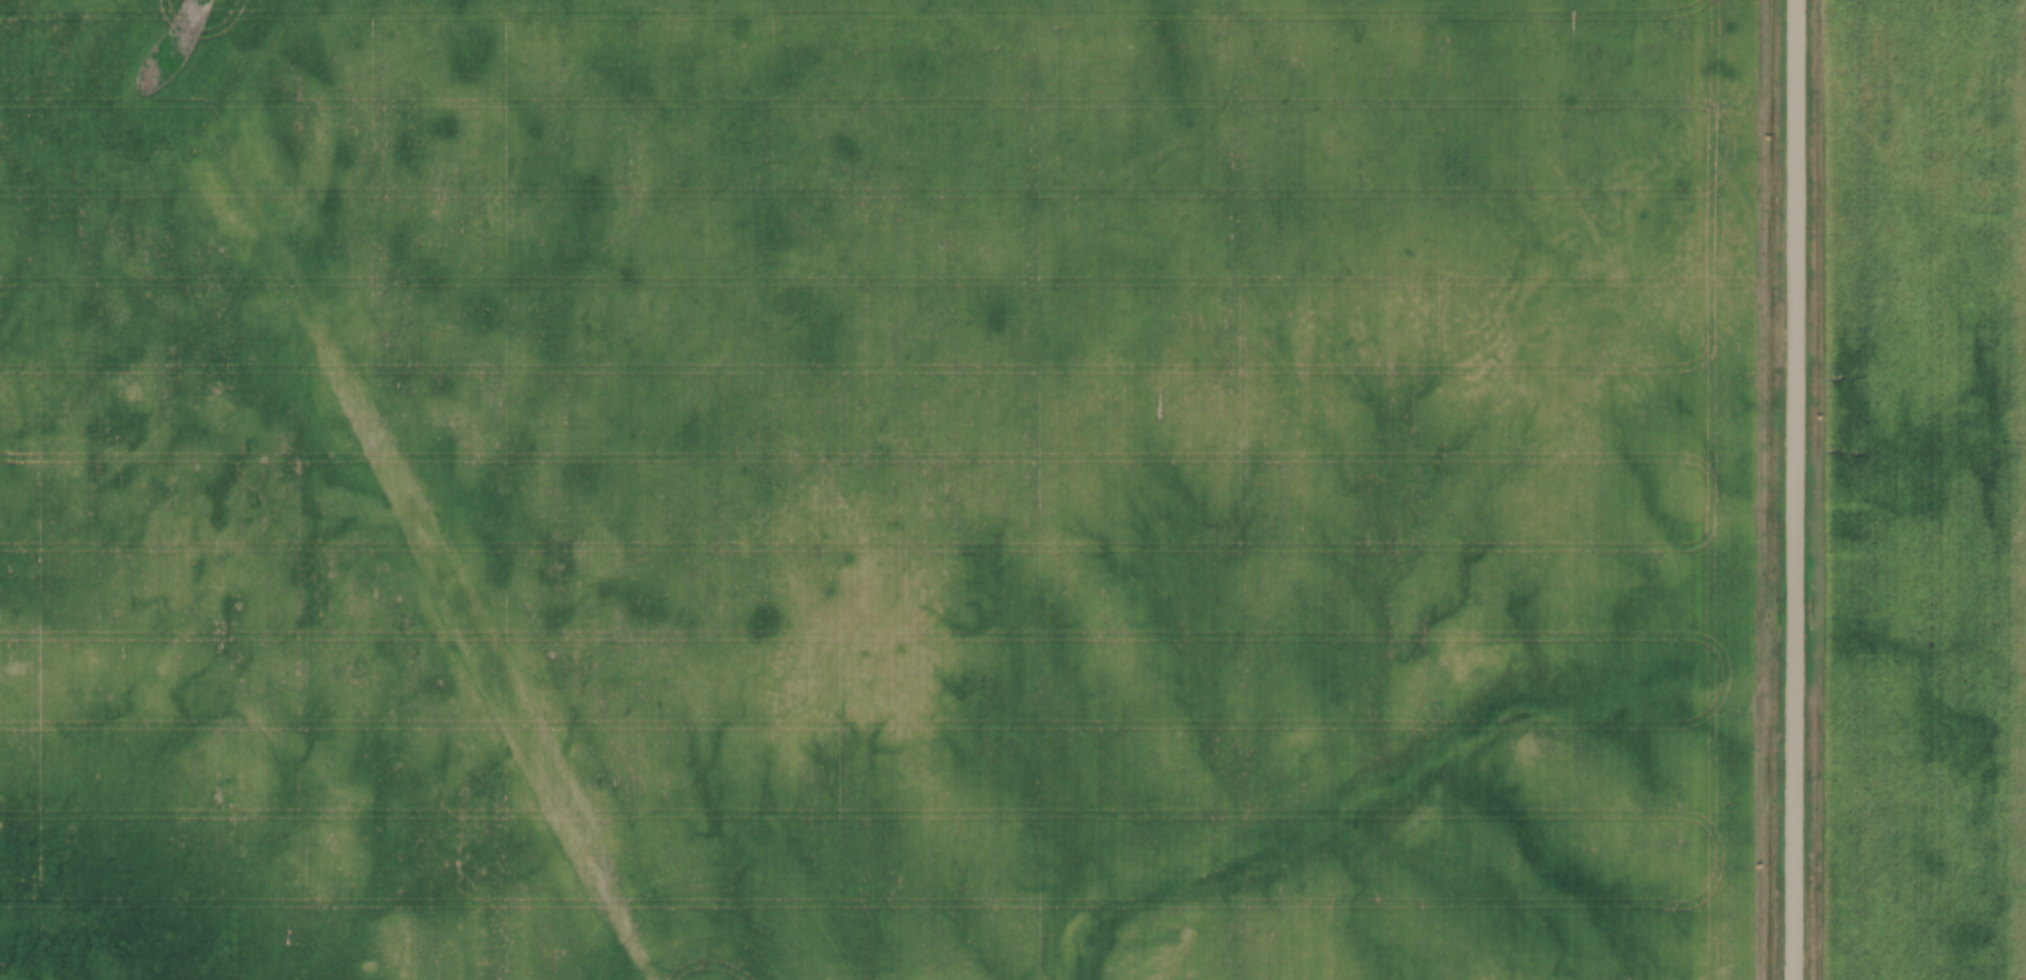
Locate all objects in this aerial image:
road: (1800, 490)

